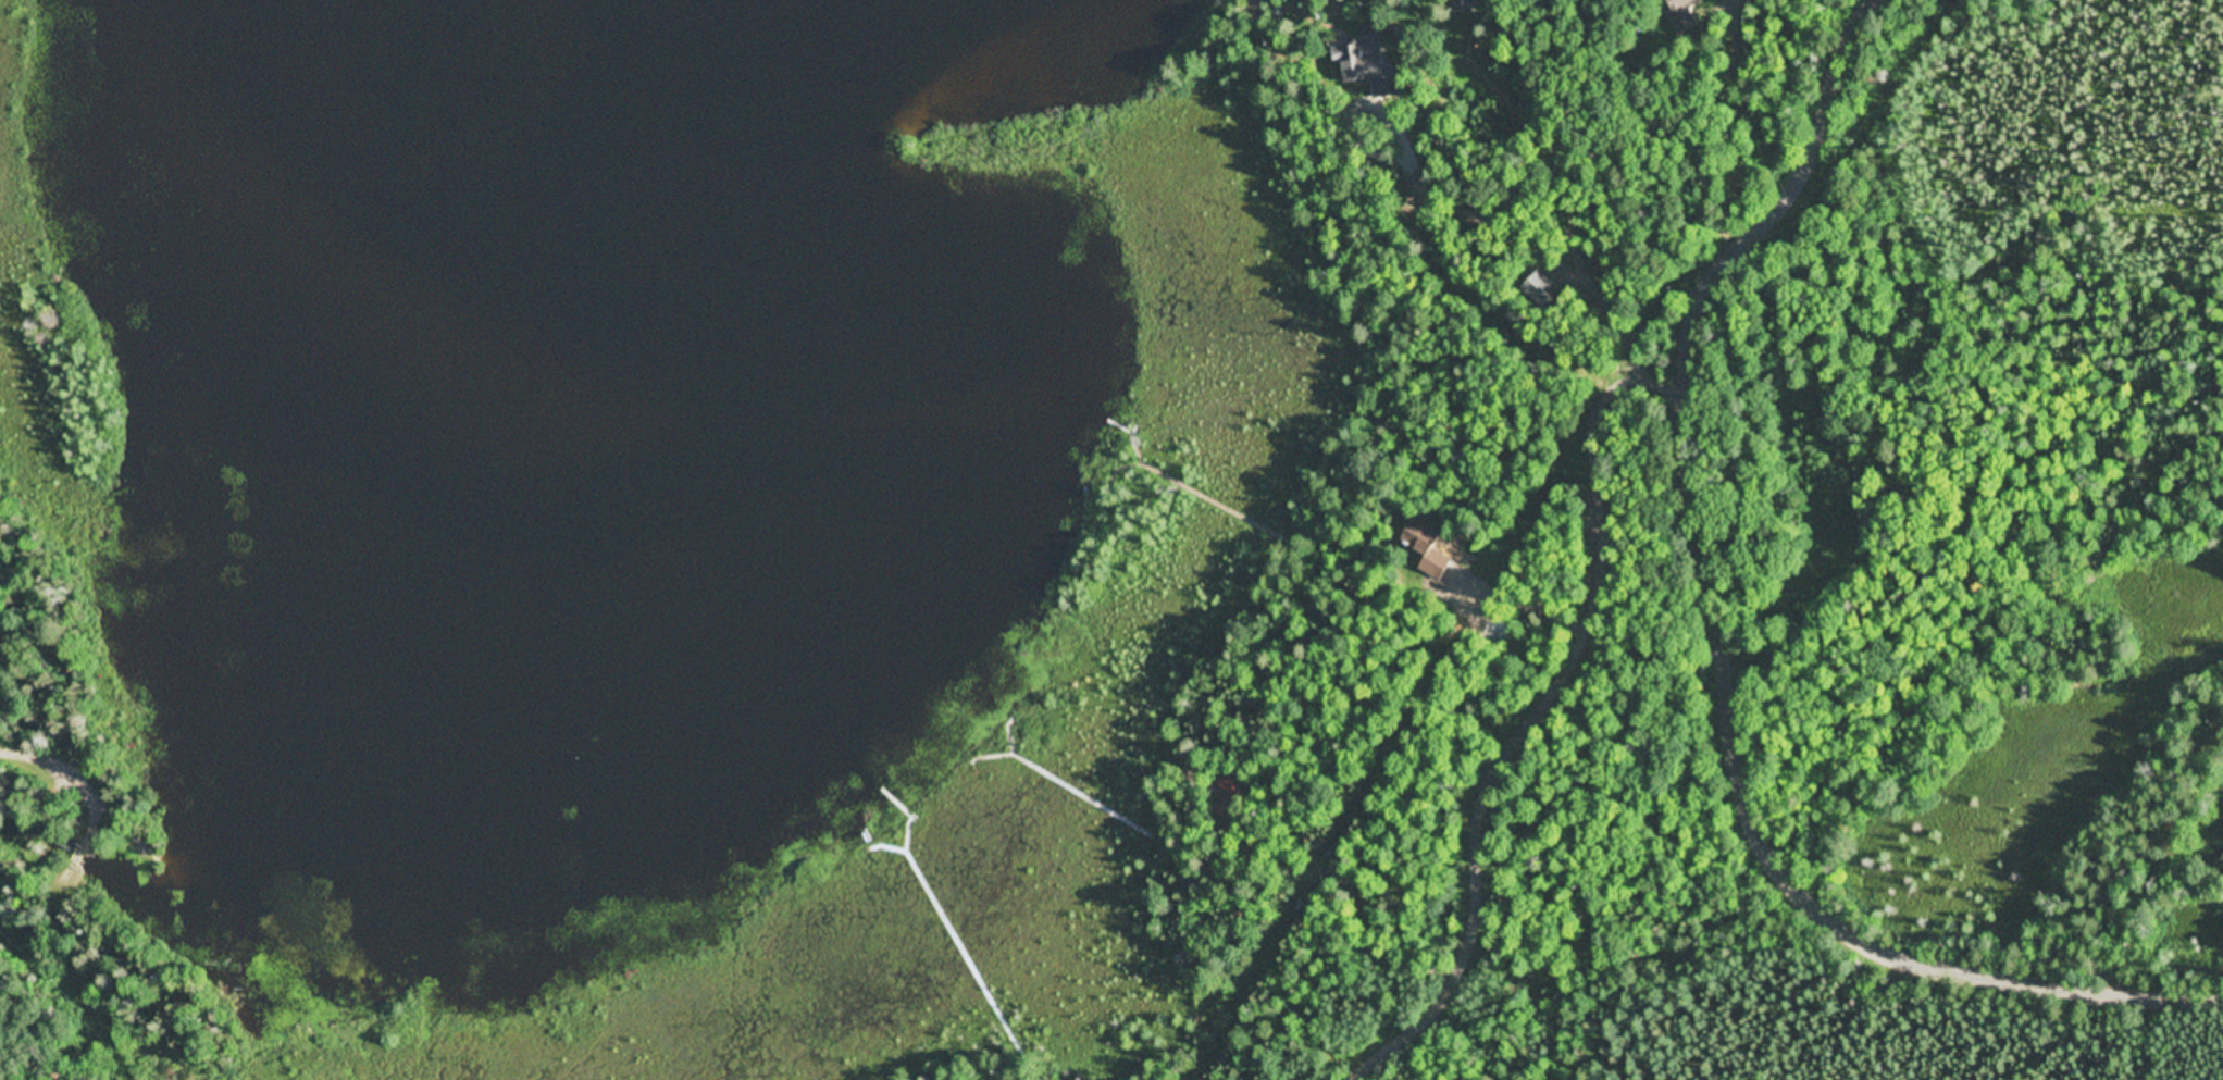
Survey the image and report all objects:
road: (1471, 252)
river: (536, 559)
road: (1729, 647)
road: (84, 767)
river: (67, 853)
road: (79, 854)
dam: (137, 893)
road: (1751, 939)
road: (90, 977)
road: (1469, 1005)

